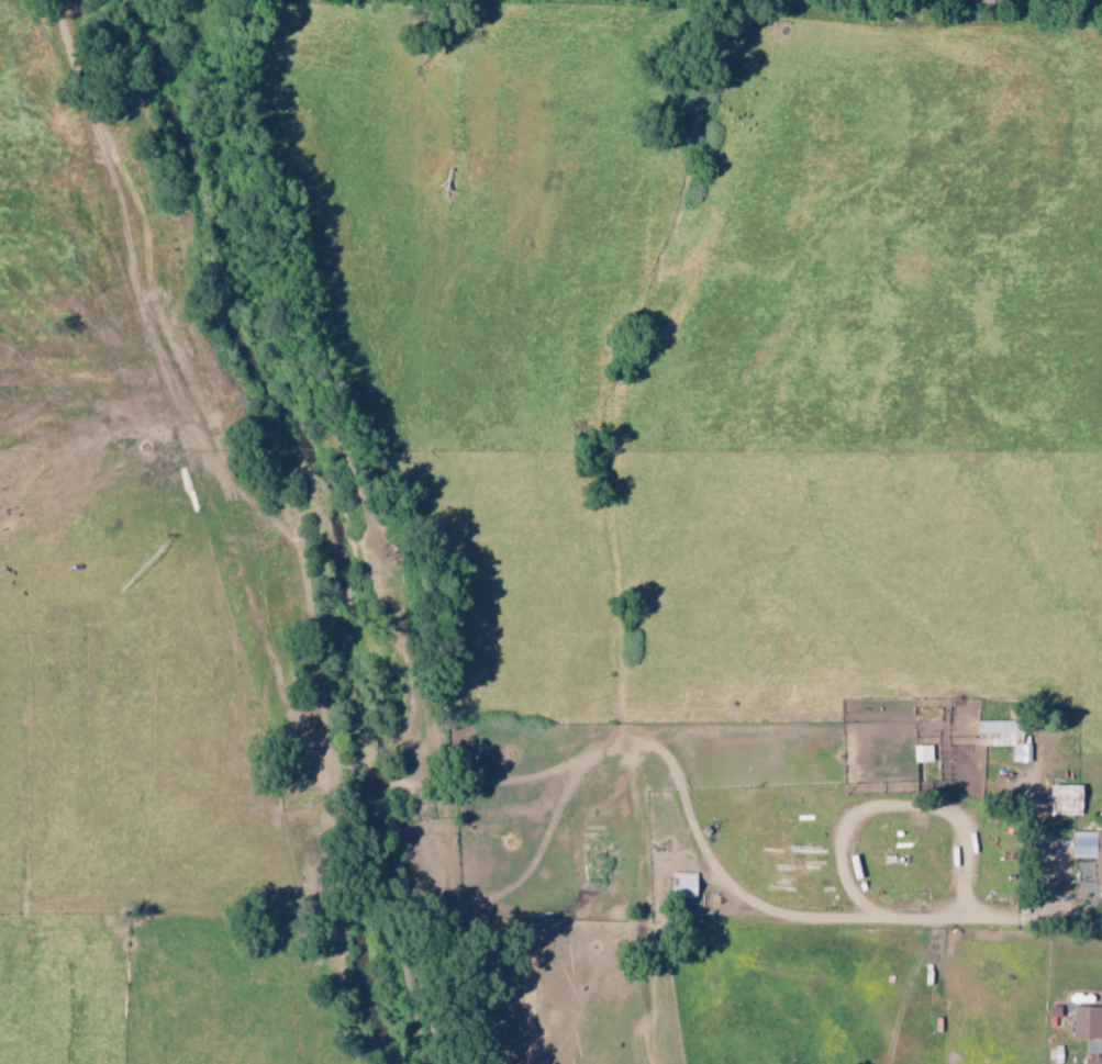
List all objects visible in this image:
road: (1043, 3)
building: (1006, 738)
building: (1067, 800)
building: (1089, 850)
road: (1050, 871)
building: (686, 885)
building: (1088, 1022)
building: (1094, 1060)

